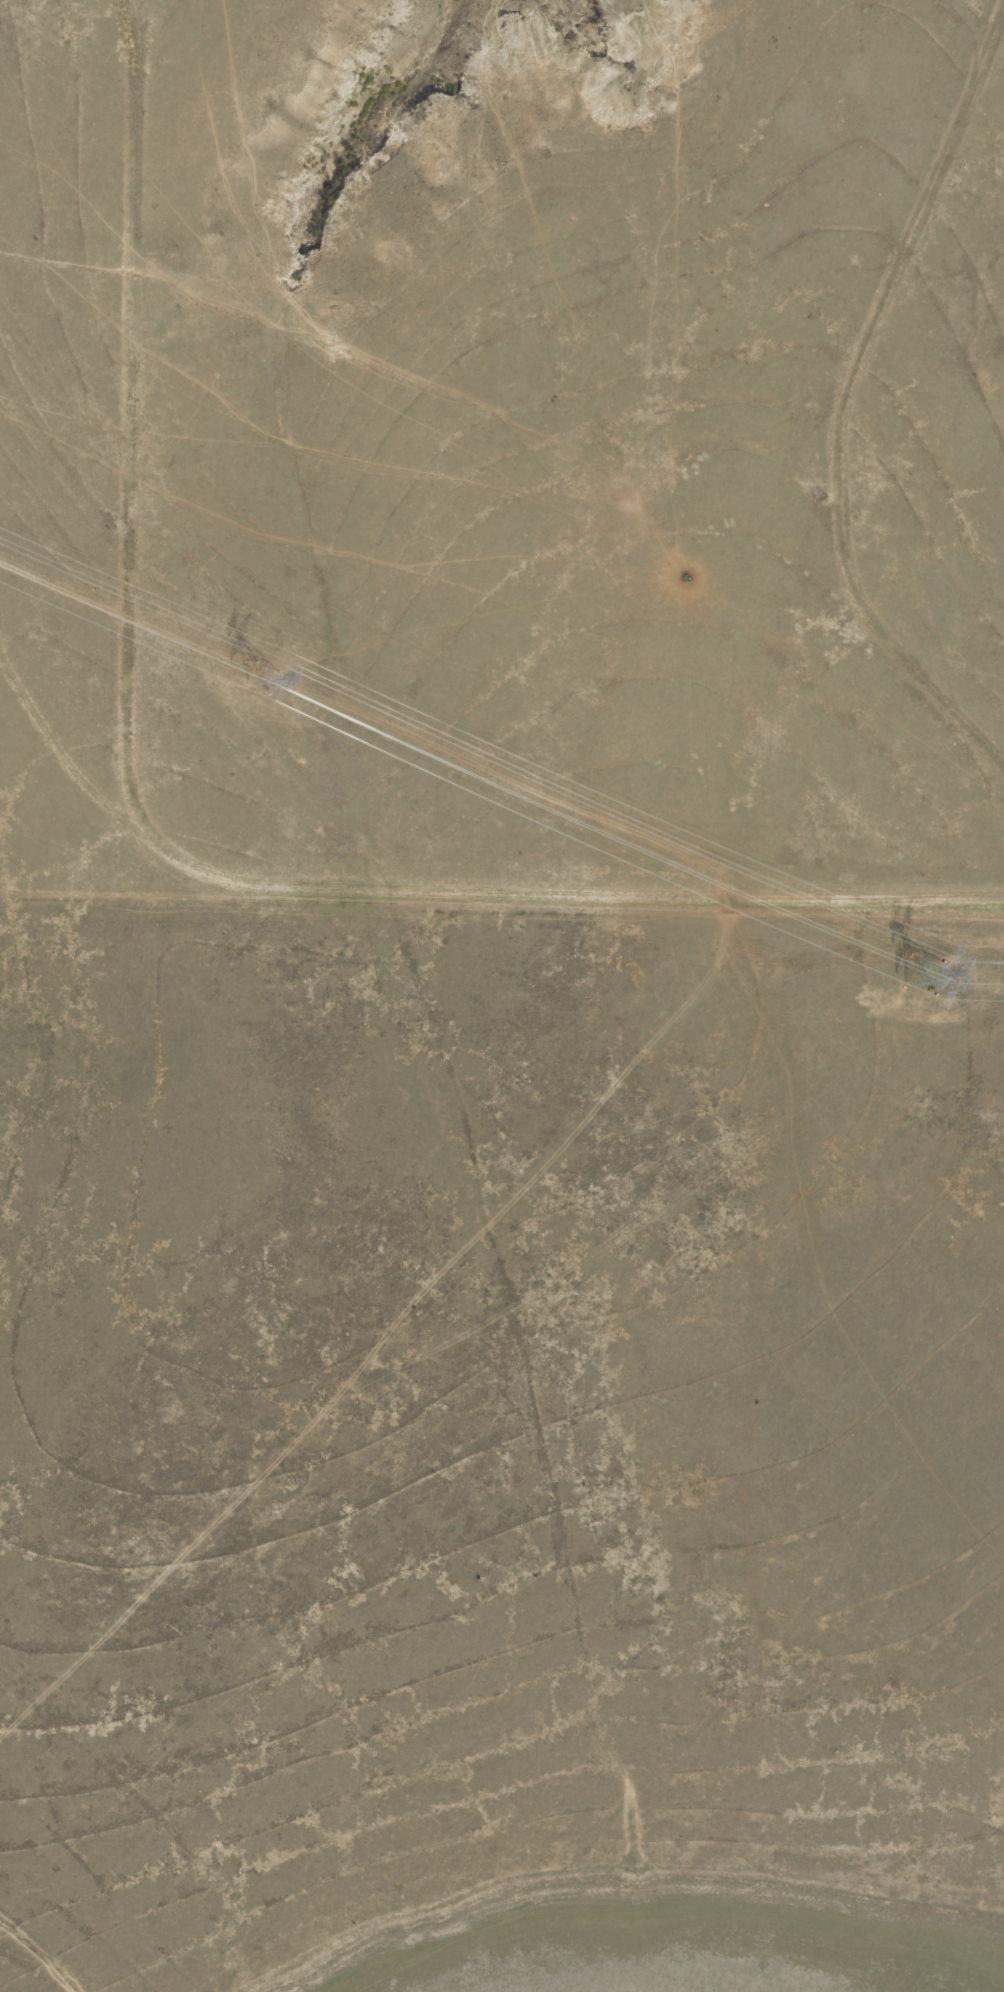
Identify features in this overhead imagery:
road: (73, 11)
road: (67, 406)
road: (839, 415)
power tower: (263, 679)
road: (476, 909)
power tower: (927, 979)

